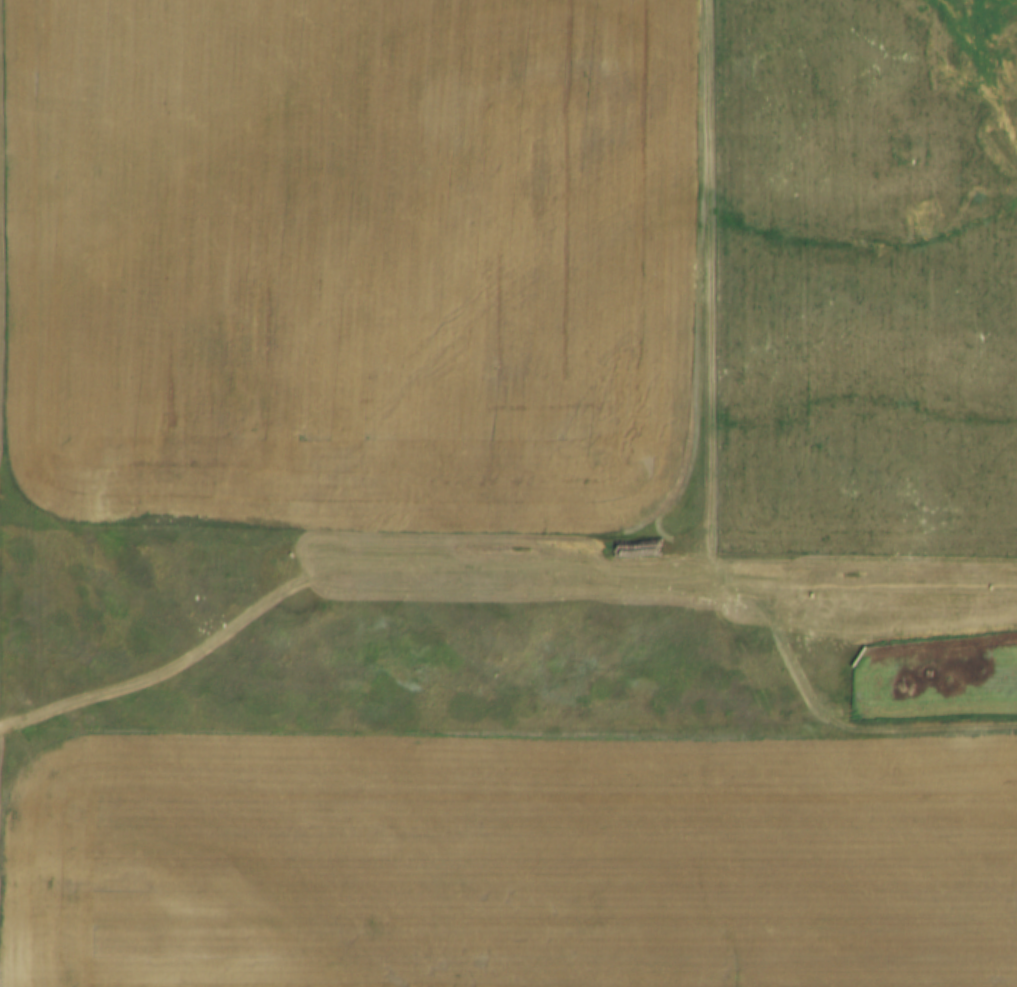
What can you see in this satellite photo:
road: (196, 652)

